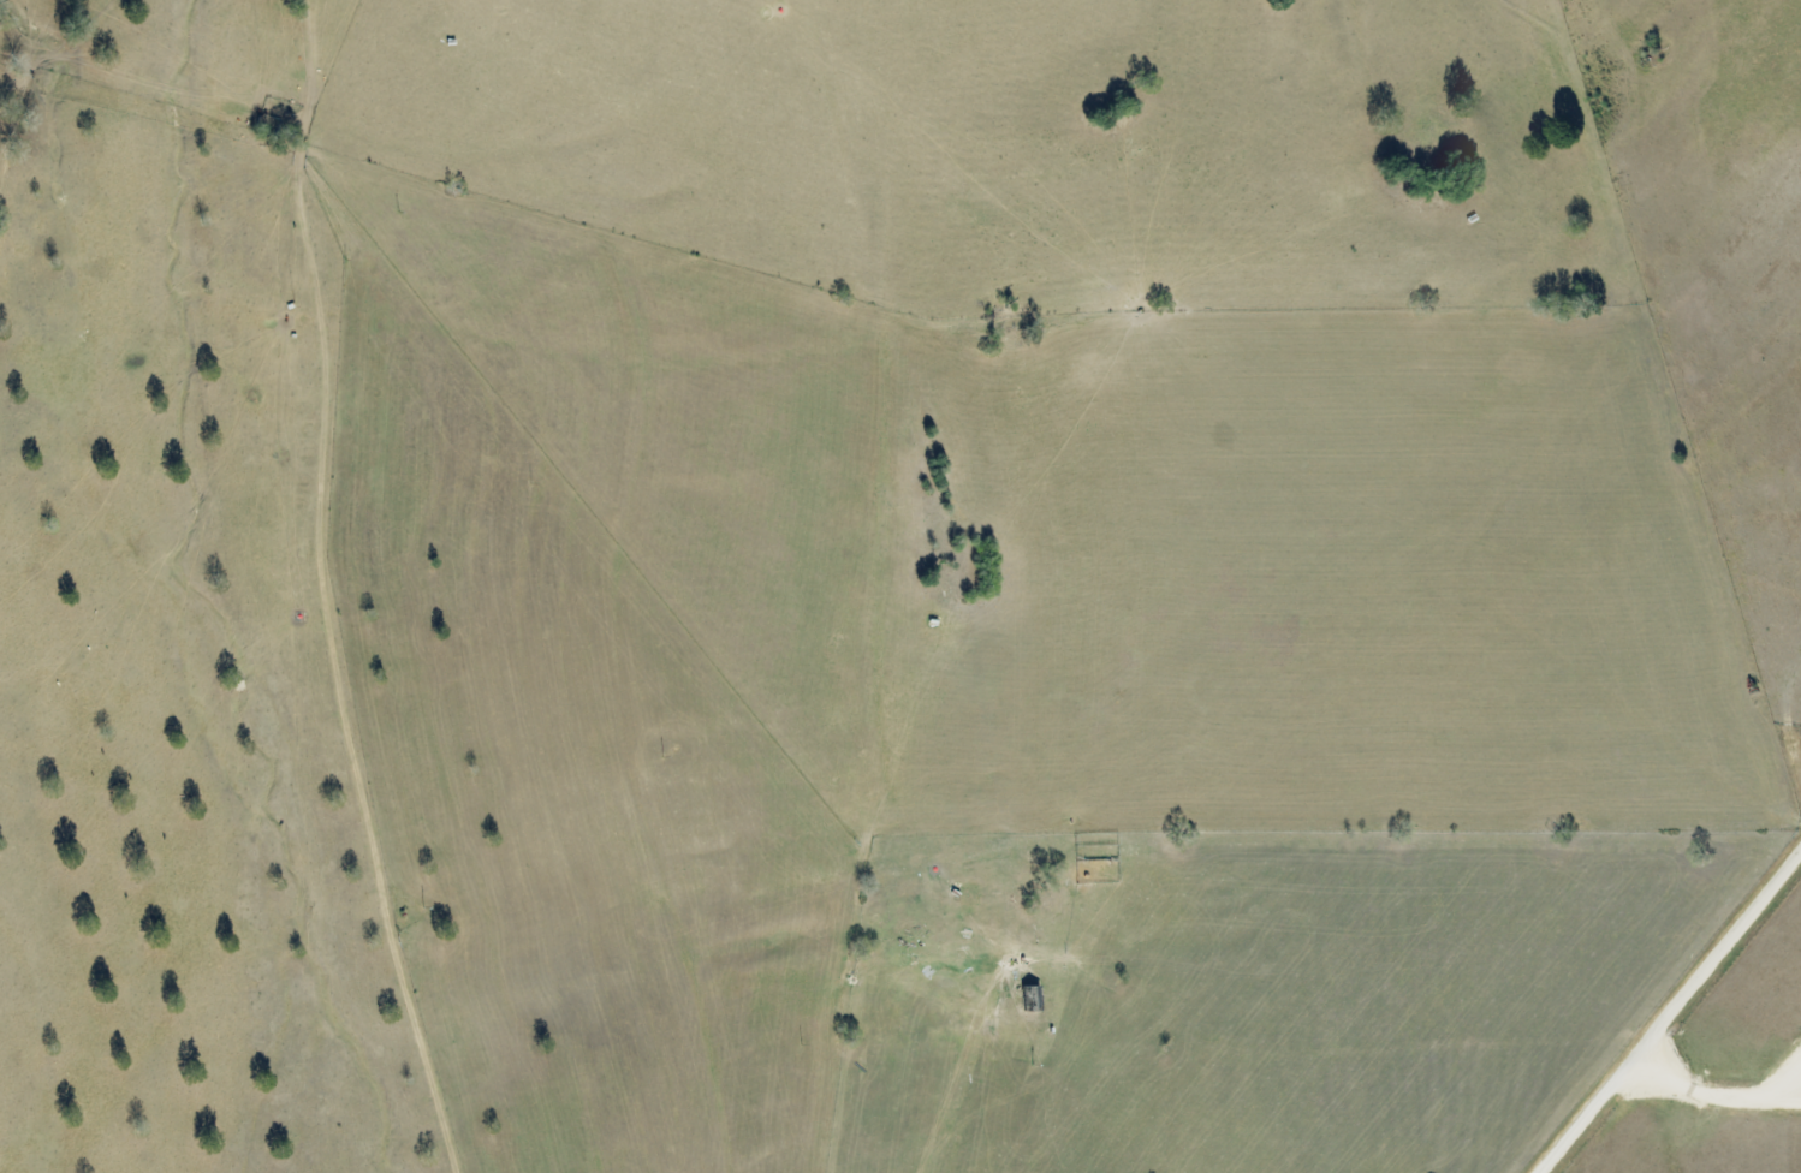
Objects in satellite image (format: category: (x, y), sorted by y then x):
road: (1671, 1013)
road: (1701, 1102)

